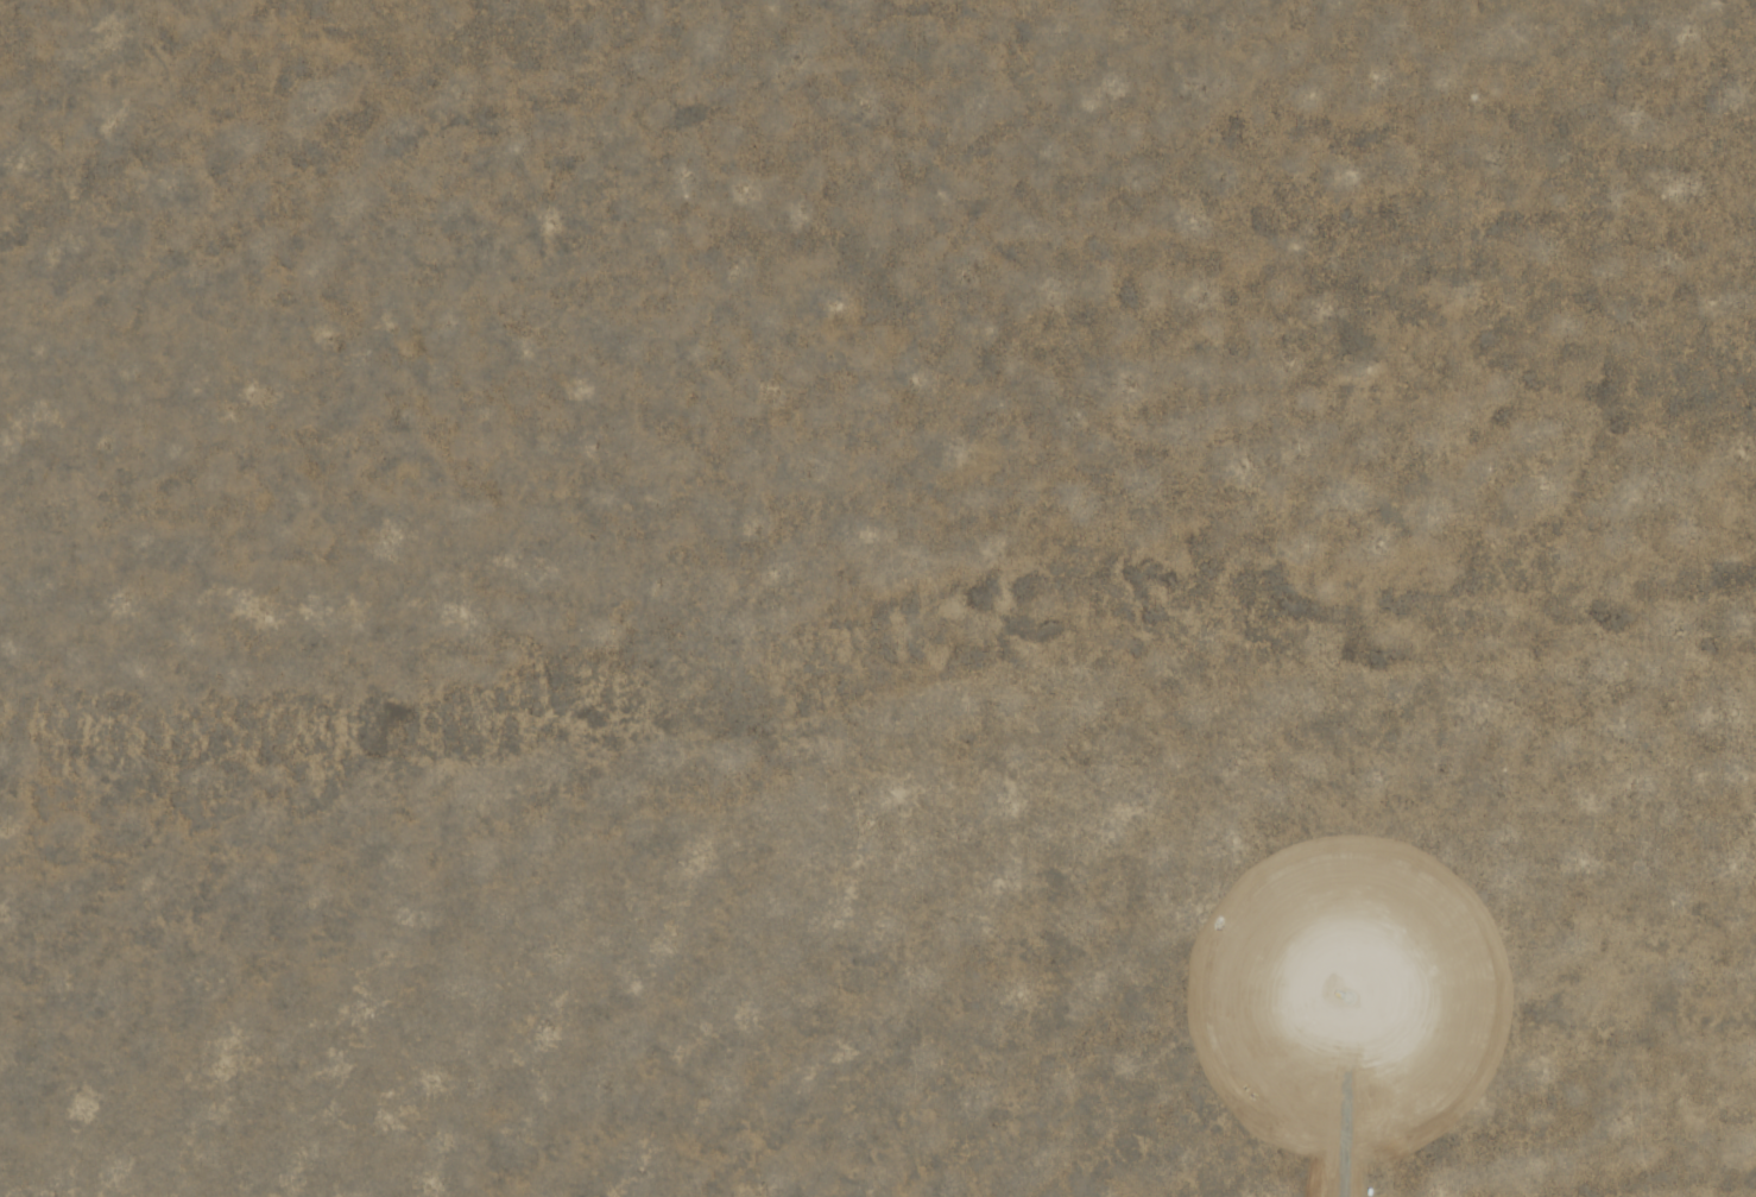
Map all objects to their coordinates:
wind turbine: (1343, 993)

